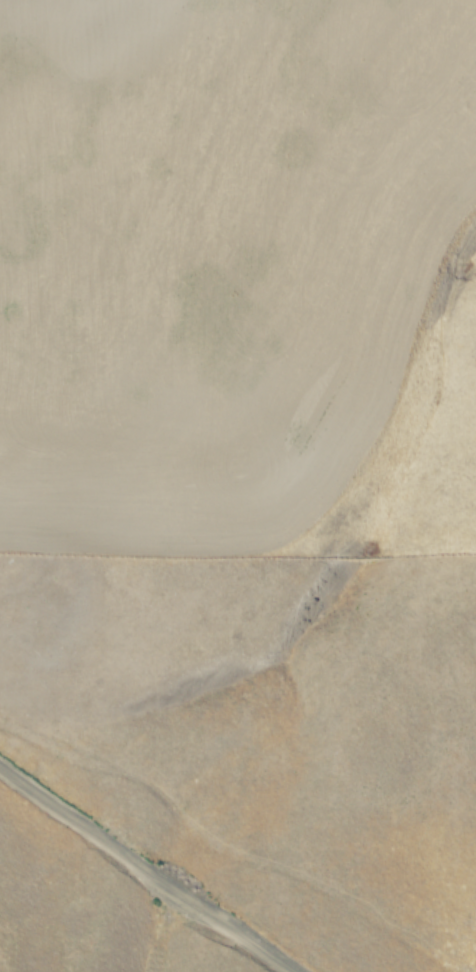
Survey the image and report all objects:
road: (147, 867)

